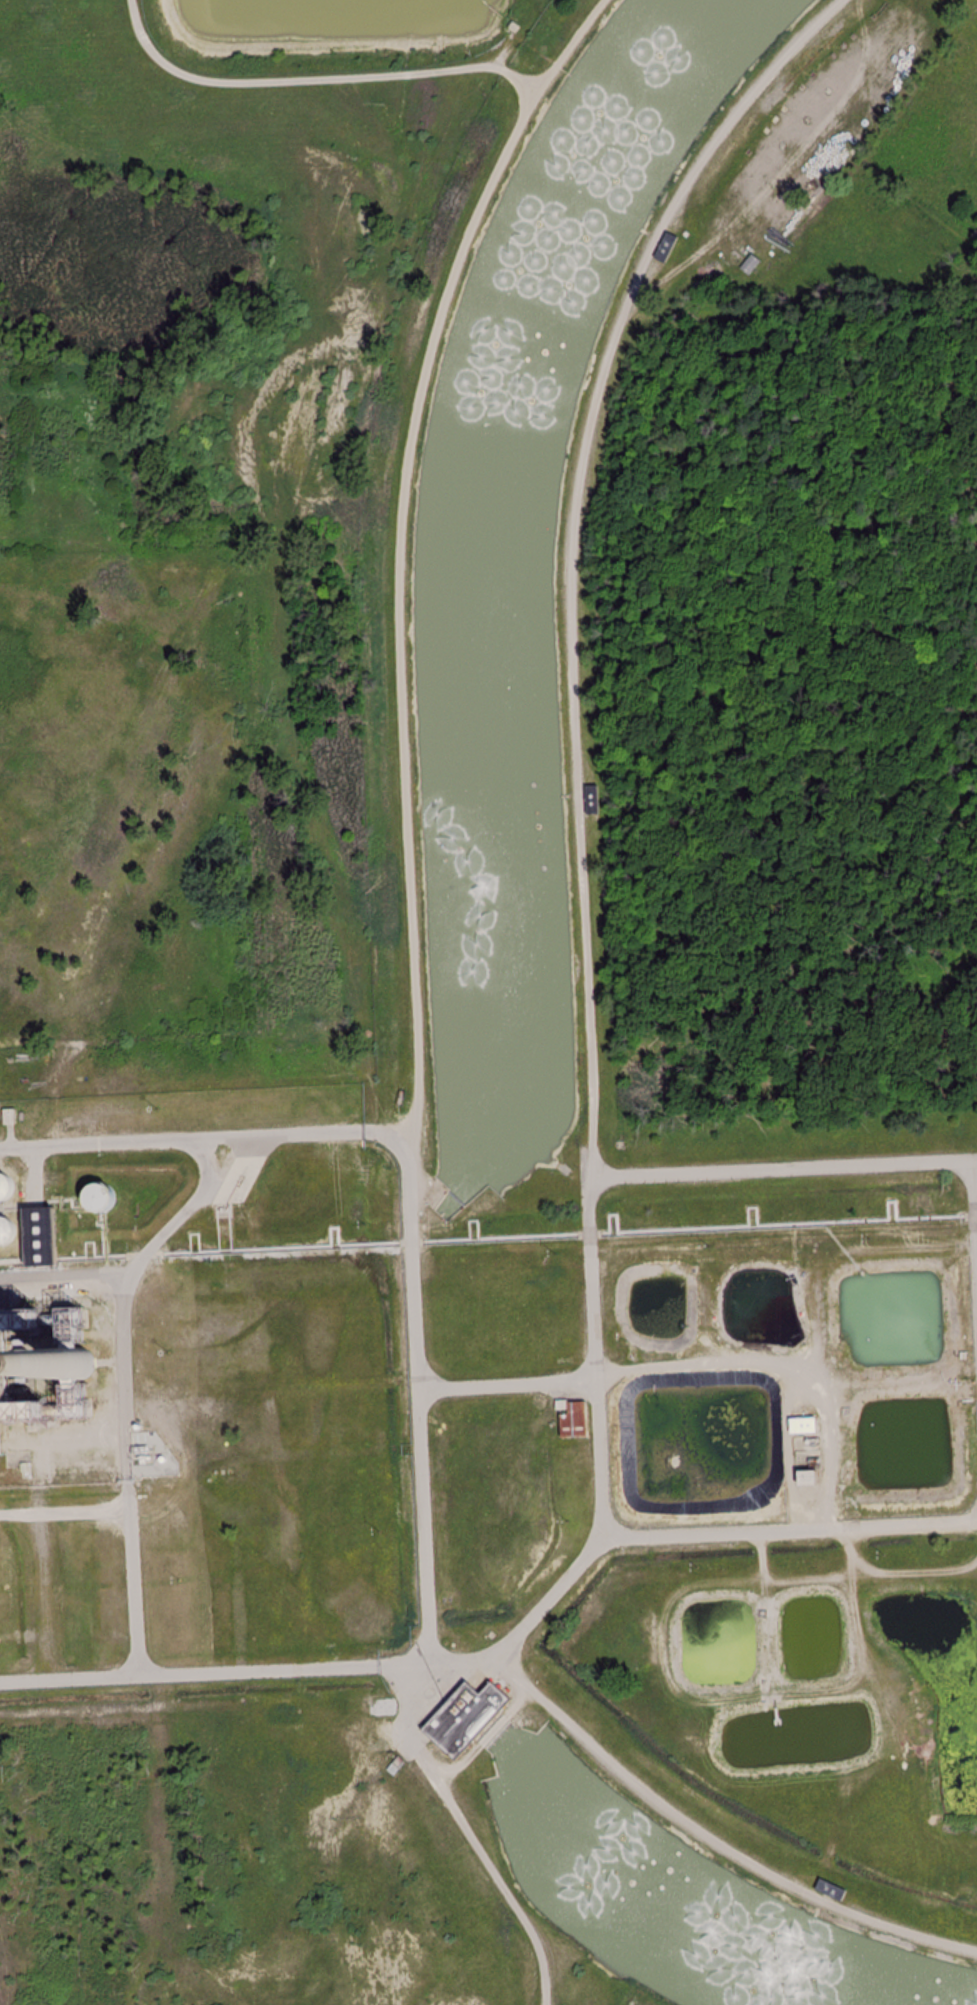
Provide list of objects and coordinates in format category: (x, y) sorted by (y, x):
road: (317, 80)
building: (647, 117)
building: (517, 227)
building: (665, 249)
building: (750, 265)
building: (591, 801)
road: (417, 999)
road: (592, 1092)
road: (207, 1141)
road: (784, 1170)
building: (2, 1189)
building: (2, 1232)
building: (36, 1239)
power plant: (57, 1333)
chimney: (85, 1366)
building: (42, 1370)
road: (510, 1386)
building: (572, 1420)
building: (0, 1452)
road: (790, 1529)
road: (251, 1673)
building: (463, 1718)
building: (830, 1890)
building: (802, 1928)

